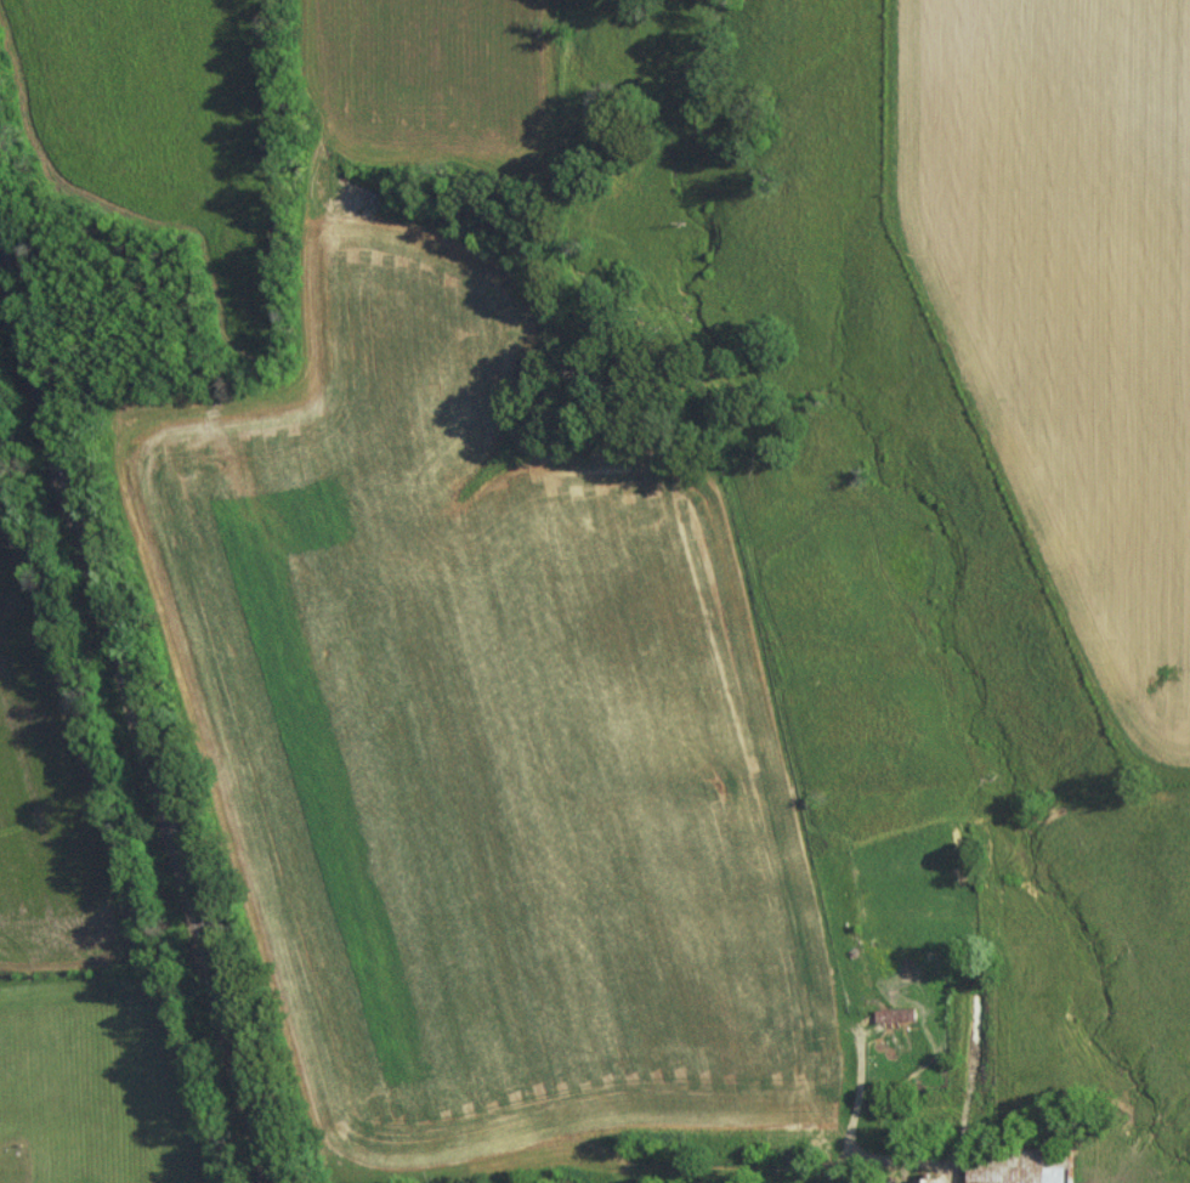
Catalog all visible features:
railway: (137, 714)
building: (894, 1014)

